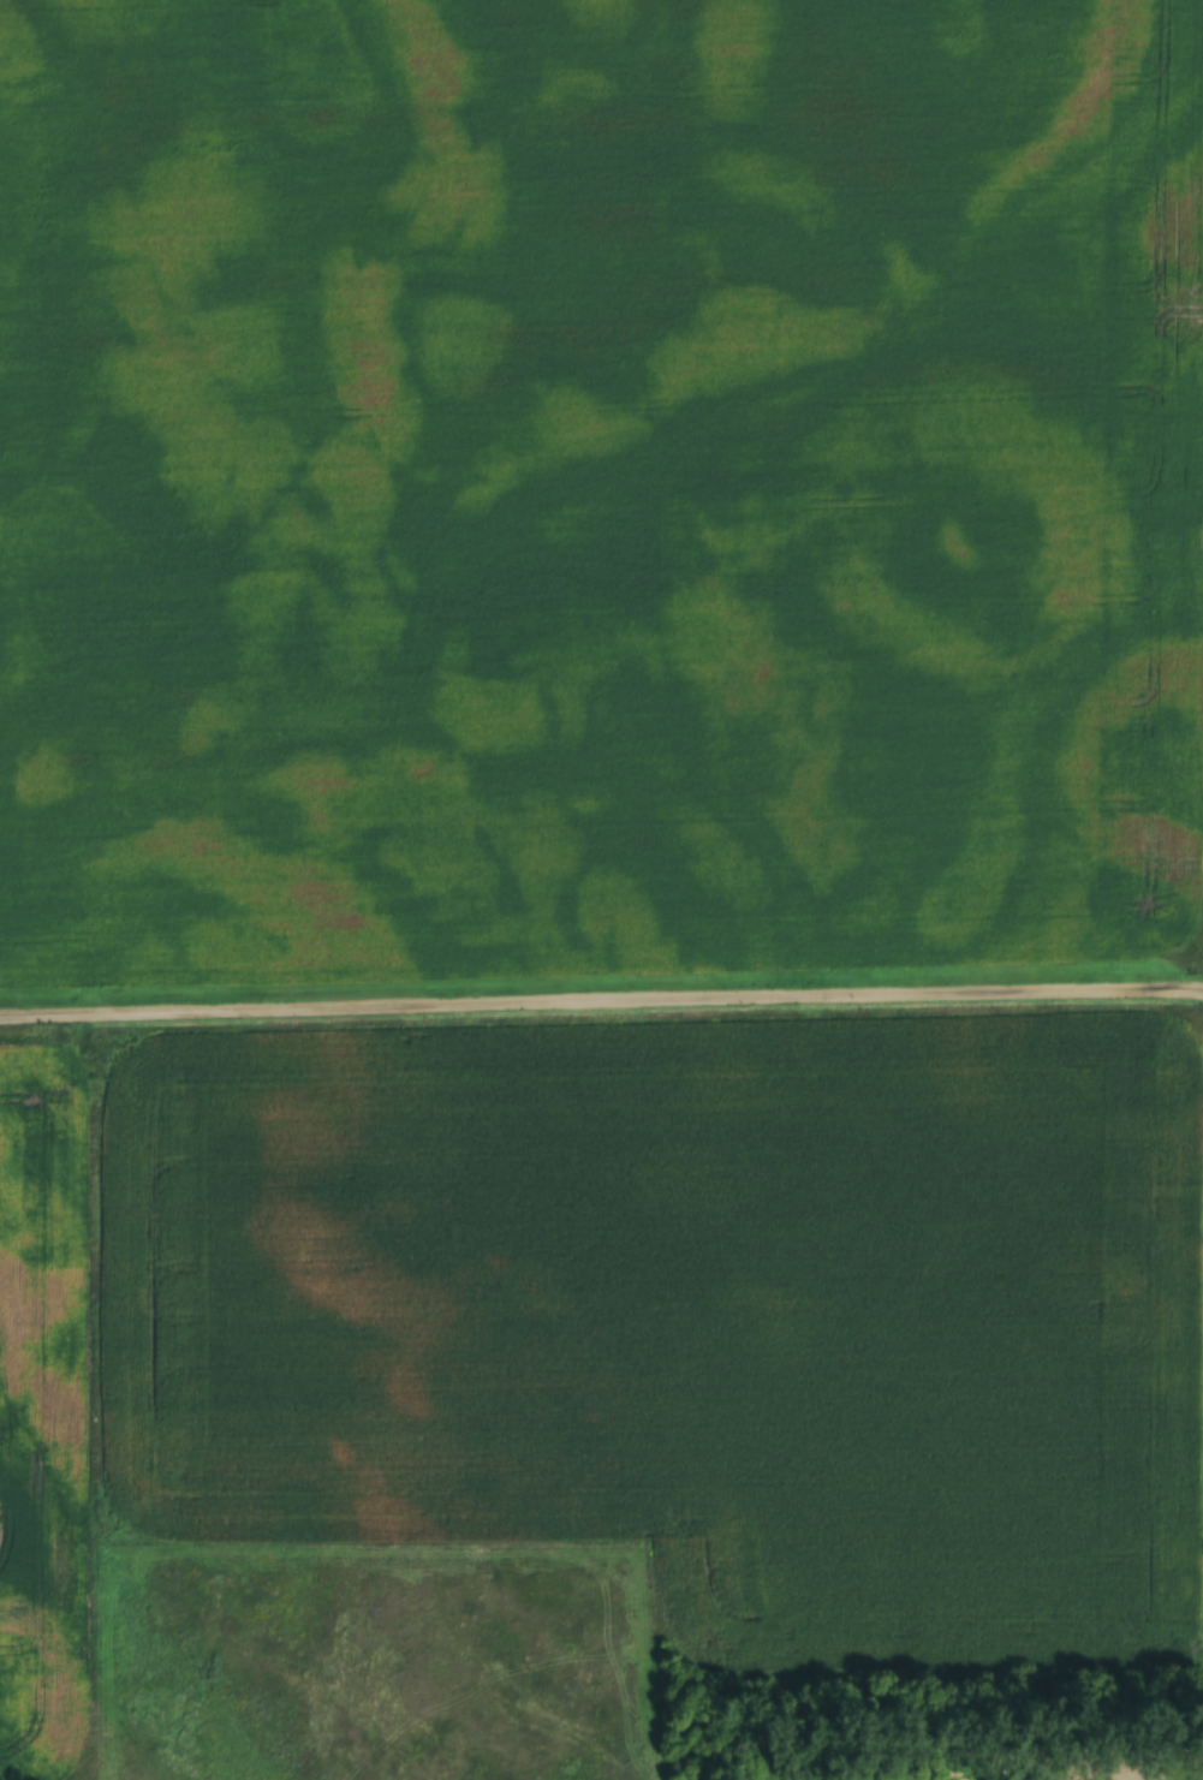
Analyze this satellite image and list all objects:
road: (601, 1002)

